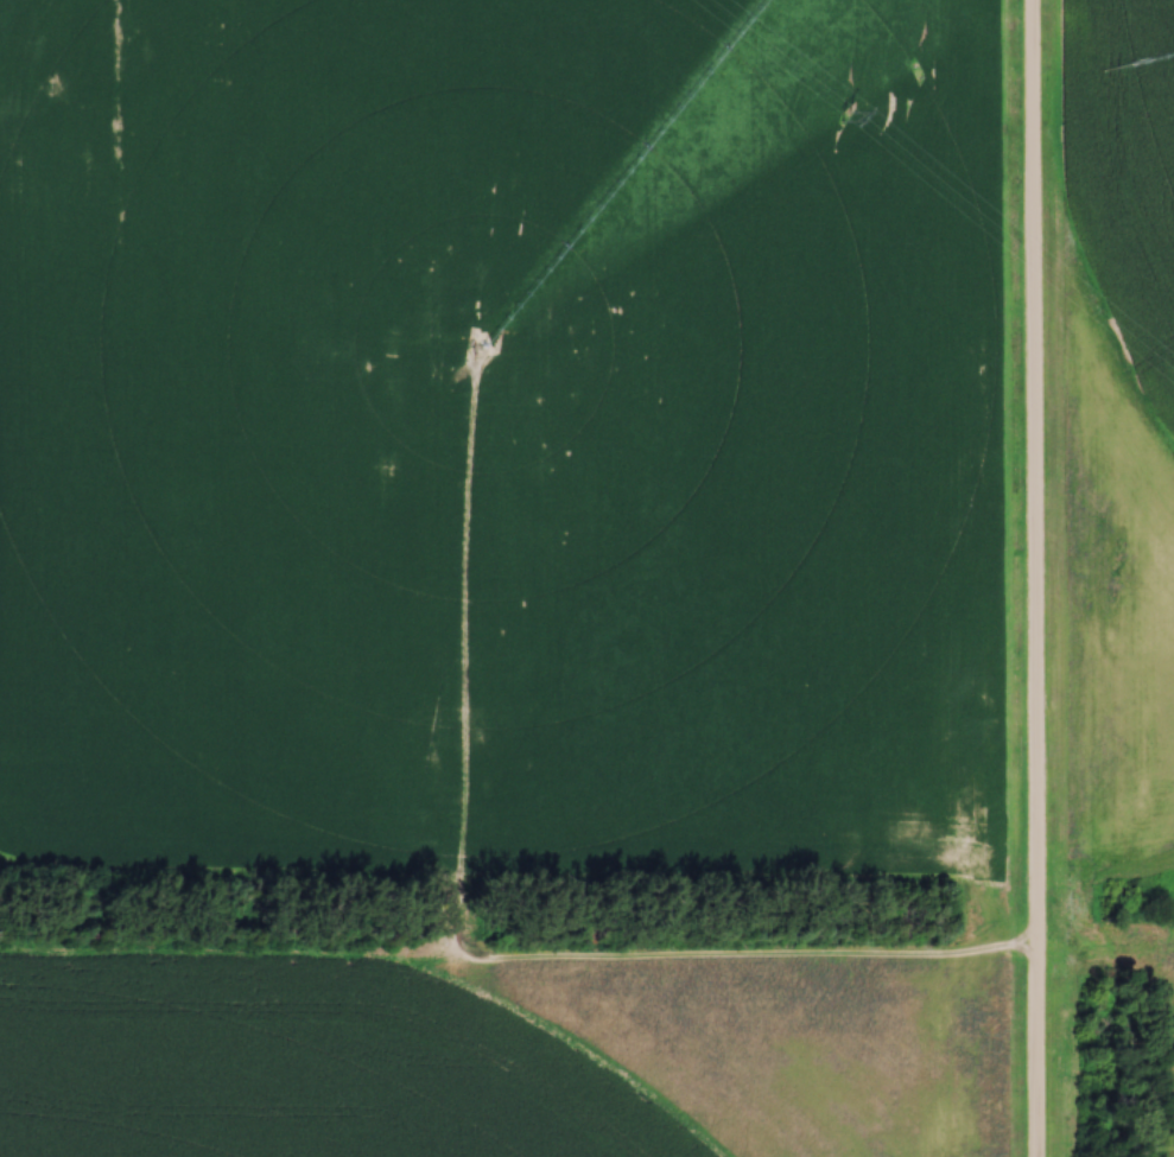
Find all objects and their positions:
power tower: (846, 119)
road: (1043, 578)

